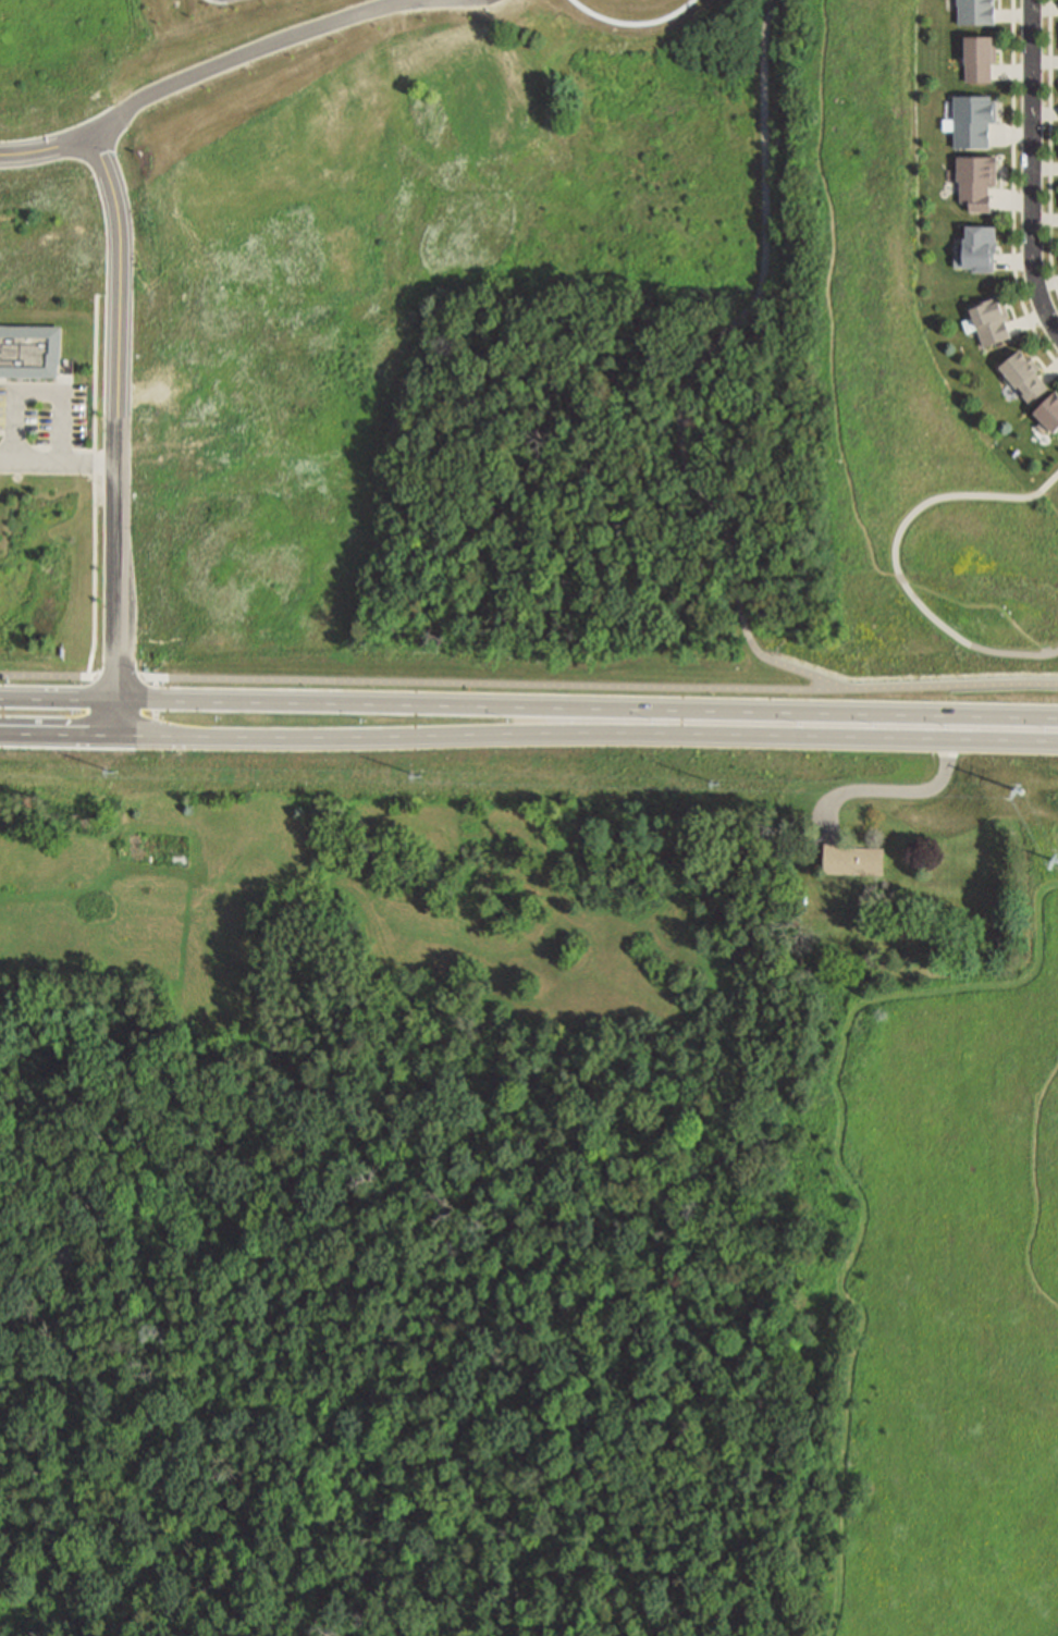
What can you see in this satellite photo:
parking lot: (223, 1)
road: (1028, 9)
building: (976, 12)
road: (632, 24)
building: (980, 58)
road: (1045, 60)
road: (220, 65)
road: (1014, 70)
road: (1045, 111)
building: (974, 121)
road: (1011, 133)
road: (1050, 147)
road: (1033, 165)
road: (1045, 165)
building: (979, 181)
road: (1013, 186)
road: (1013, 197)
road: (1045, 218)
building: (980, 247)
road: (1013, 259)
road: (1048, 281)
road: (831, 302)
road: (1029, 319)
building: (992, 320)
building: (30, 352)
road: (1049, 369)
road: (697, 371)
building: (1021, 372)
road: (2, 381)
road: (42, 394)
building: (1048, 410)
parking lot: (44, 416)
road: (116, 431)
road: (10, 433)
road: (47, 450)
road: (58, 463)
road: (96, 487)
road: (894, 556)
road: (986, 606)
road: (58, 678)
road: (480, 681)
road: (950, 687)
road: (156, 705)
road: (528, 708)
road: (328, 737)
road: (857, 739)
power tower: (110, 763)
power tower: (420, 775)
power tower: (719, 786)
road: (896, 787)
power tower: (1020, 791)
building: (853, 862)
power tower: (1056, 862)
road: (1046, 885)
road: (1036, 1189)
road: (857, 1191)
building: (69, 1254)

